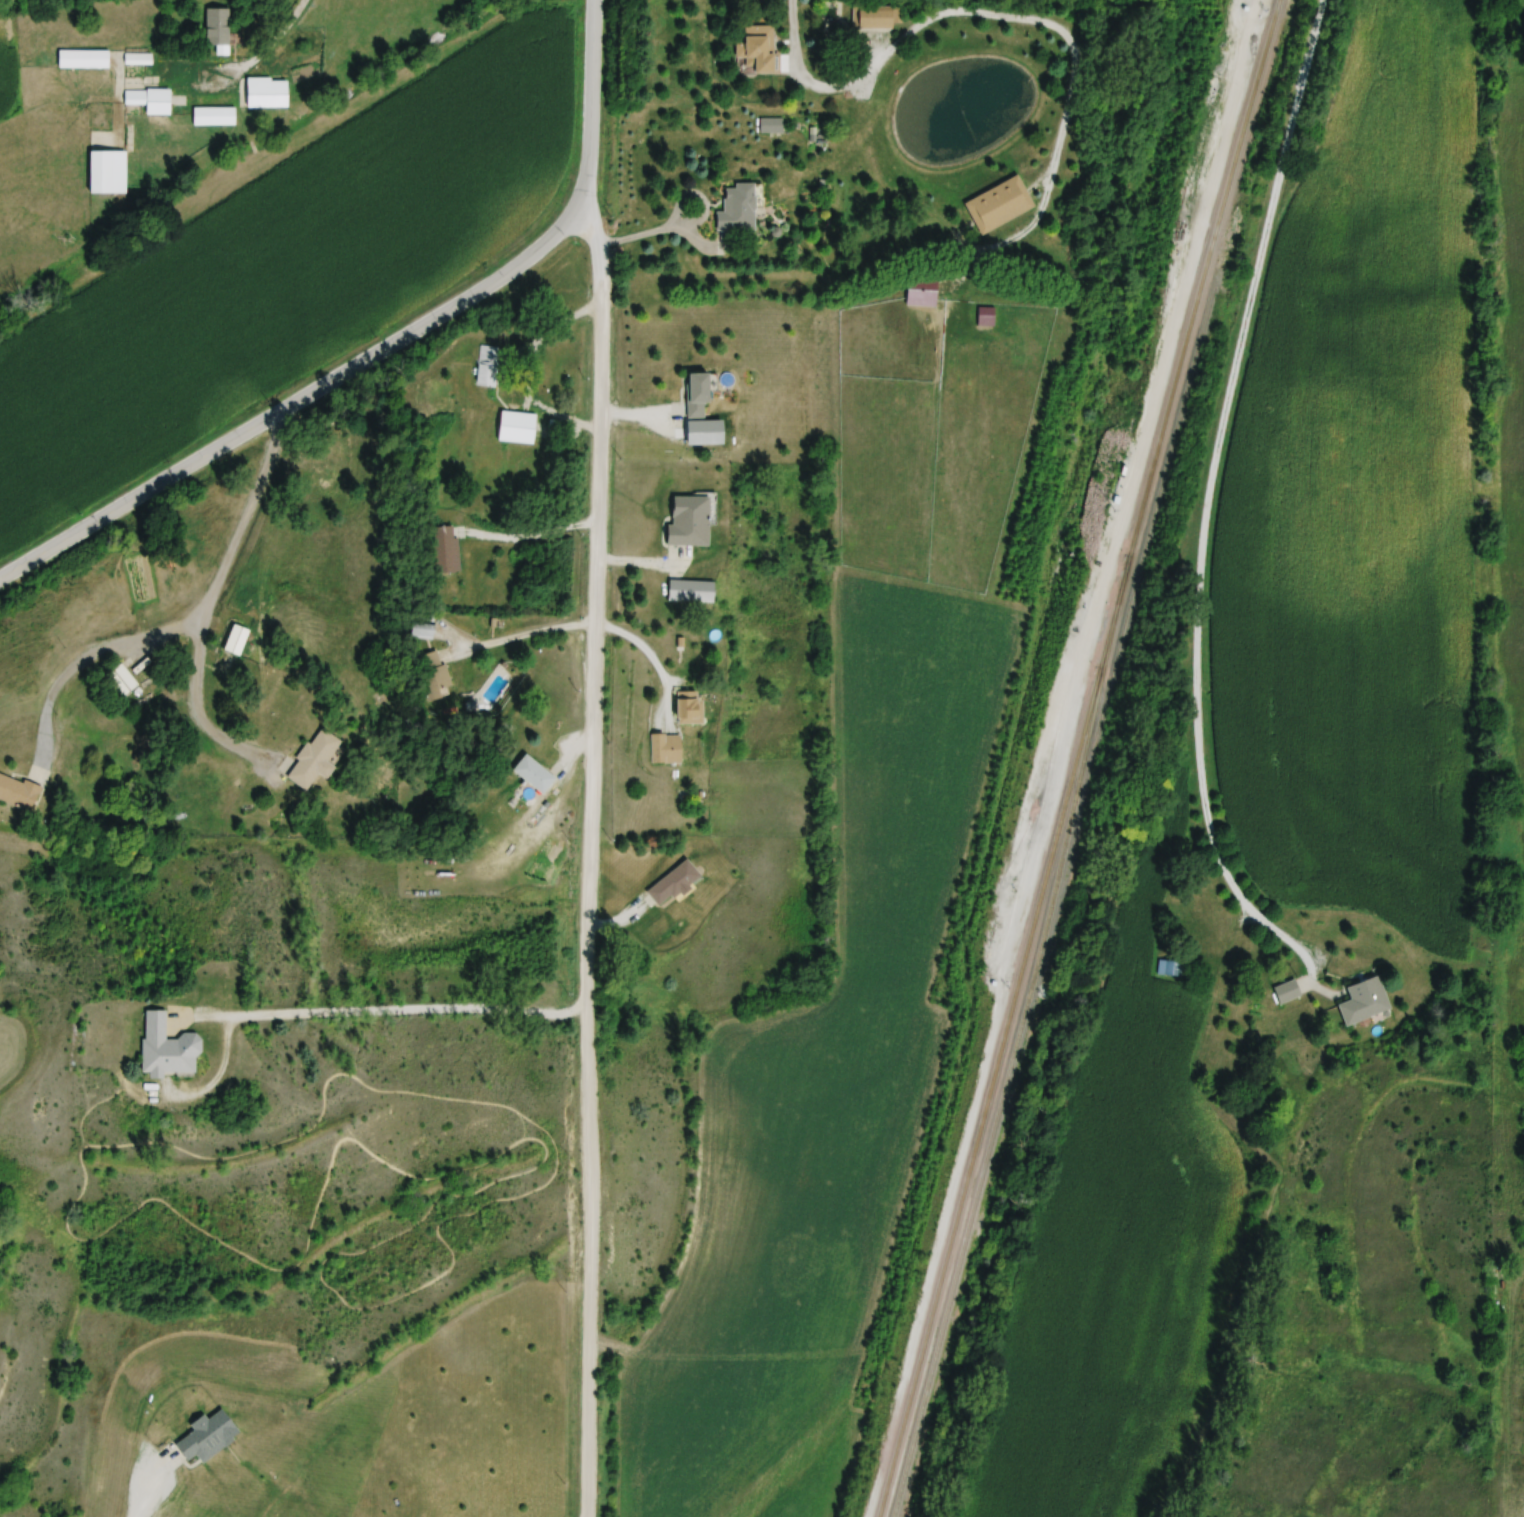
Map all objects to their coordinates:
building: (876, 19)
road: (1046, 23)
building: (219, 30)
road: (268, 47)
building: (759, 47)
building: (84, 60)
building: (140, 60)
road: (810, 63)
building: (268, 93)
building: (151, 102)
building: (102, 116)
building: (215, 116)
building: (108, 173)
building: (1000, 205)
building: (739, 209)
road: (384, 348)
building: (486, 362)
road: (532, 369)
building: (691, 384)
building: (698, 396)
building: (516, 424)
road: (1206, 502)
crop: (1364, 504)
building: (682, 514)
building: (446, 550)
building: (684, 582)
road: (186, 621)
building: (420, 628)
road: (524, 635)
building: (237, 640)
road: (646, 648)
building: (432, 672)
building: (123, 680)
building: (681, 695)
building: (690, 707)
road: (195, 715)
building: (658, 737)
building: (667, 749)
building: (308, 752)
railway: (1084, 759)
building: (526, 765)
railway: (1090, 786)
building: (18, 789)
road: (586, 850)
building: (664, 875)
building: (675, 883)
building: (1288, 992)
building: (1365, 1001)
road: (390, 1004)
building: (160, 1040)
road: (147, 1487)

